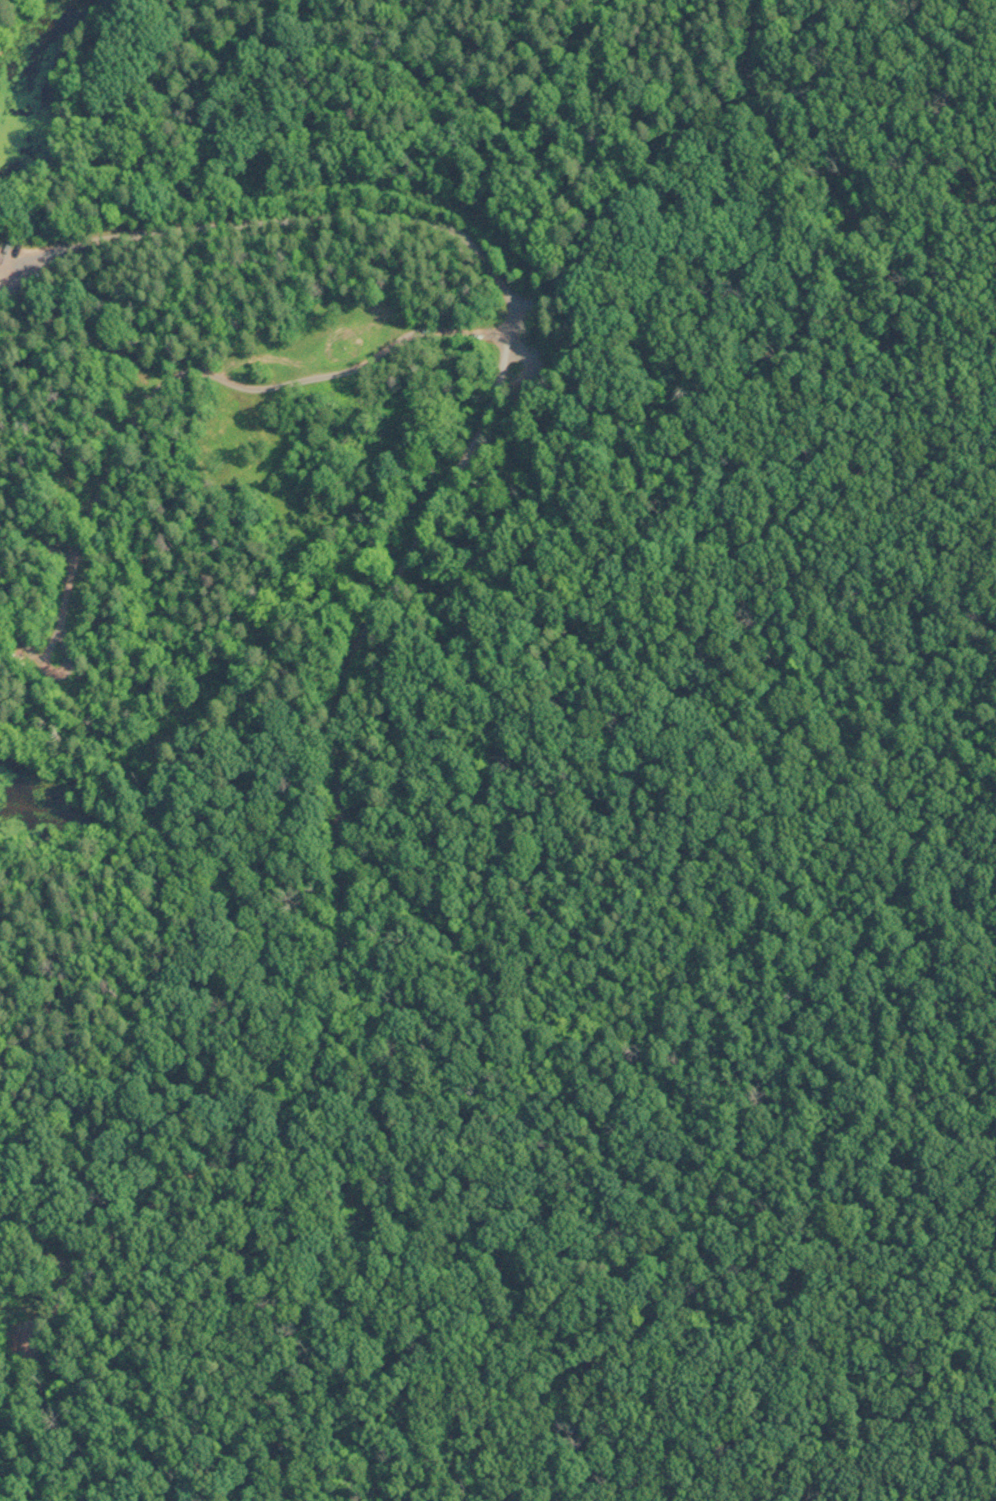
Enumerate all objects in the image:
road: (696, 200)
road: (279, 225)
parking lot: (17, 255)
road: (200, 379)
road: (341, 831)
road: (46, 1243)
road: (41, 1354)

